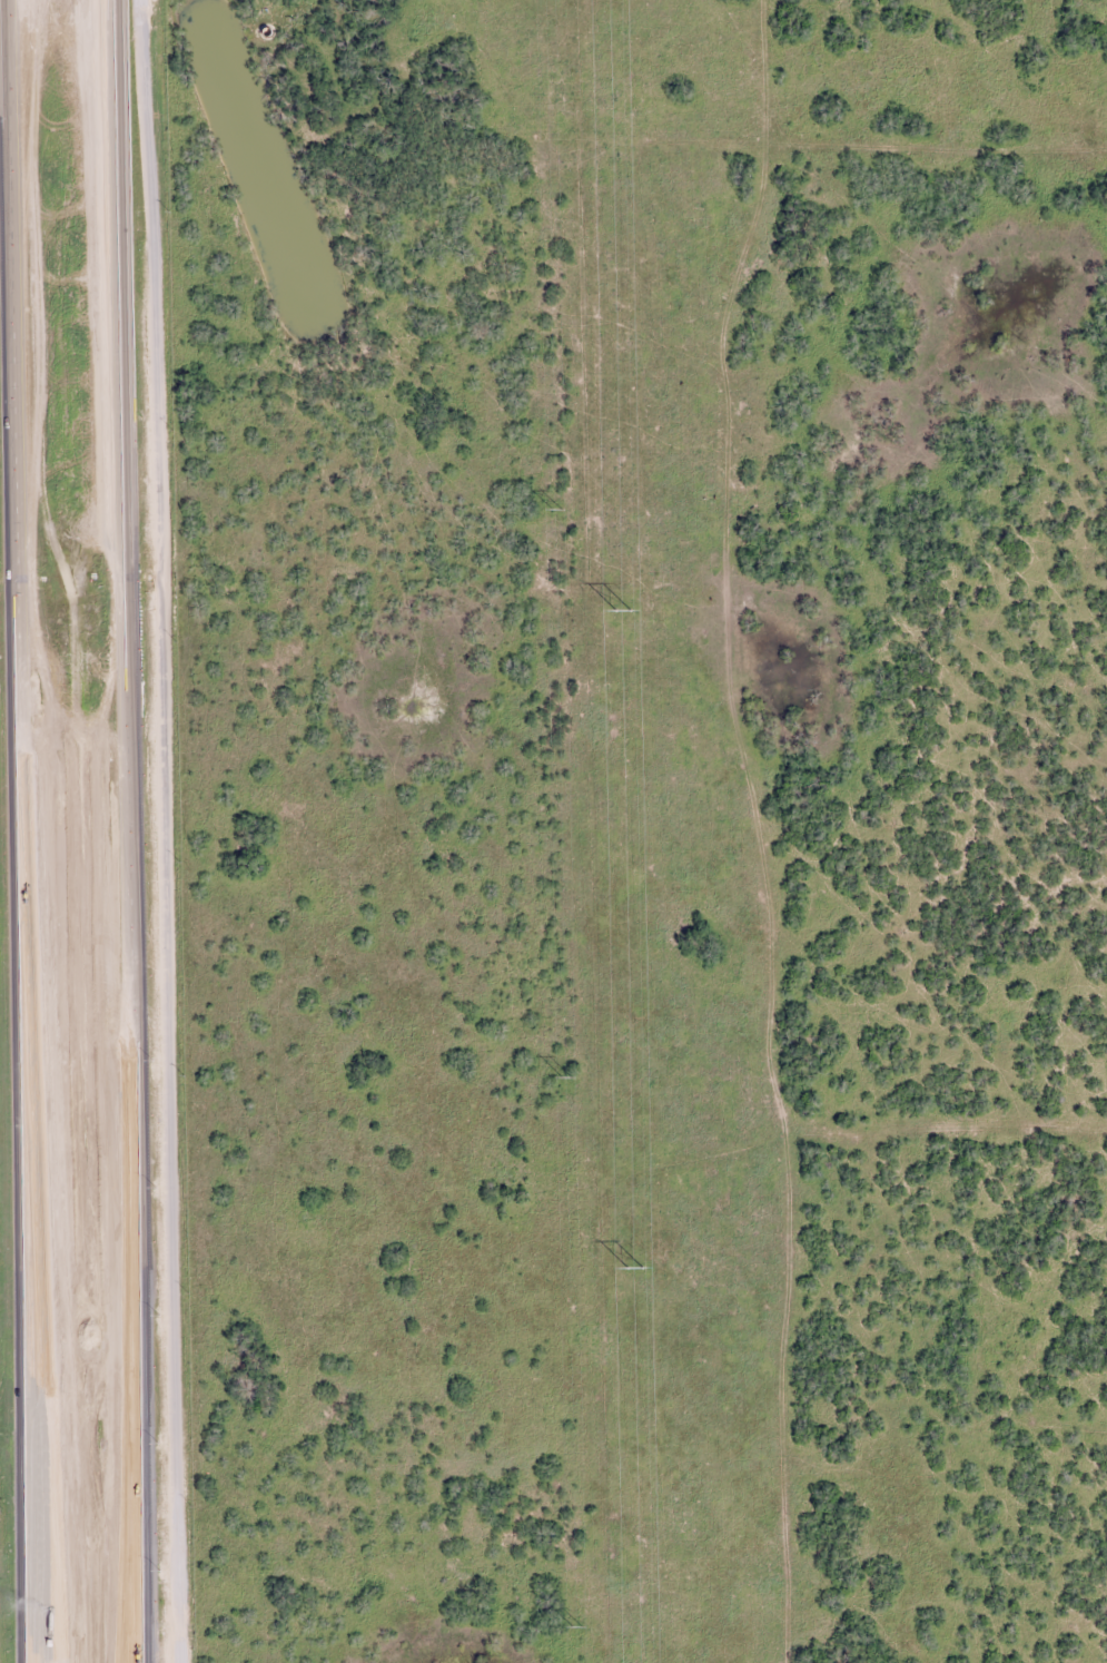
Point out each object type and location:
power tower: (557, 508)
power tower: (625, 611)
road: (130, 640)
road: (22, 644)
road: (164, 830)
power tower: (570, 1077)
power tower: (636, 1267)
road: (827, 1357)
road: (138, 1473)
road: (147, 1473)
road: (31, 1476)
road: (39, 1476)
power tower: (577, 1626)

